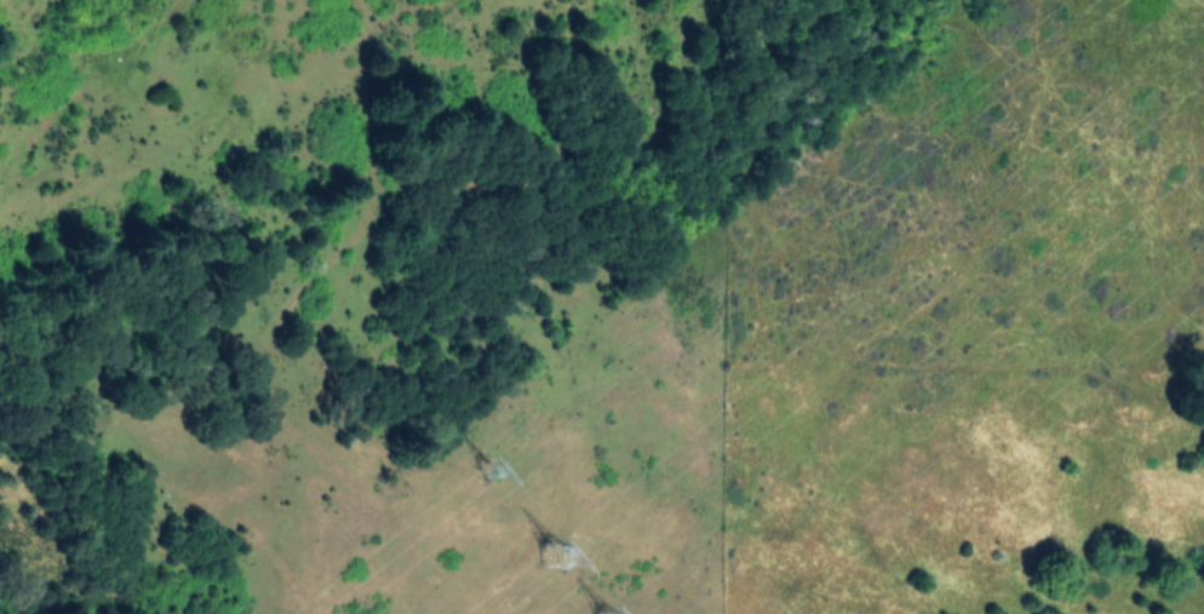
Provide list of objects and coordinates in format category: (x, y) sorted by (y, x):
power tower: (486, 478)
power tower: (562, 553)
power tower: (620, 610)

